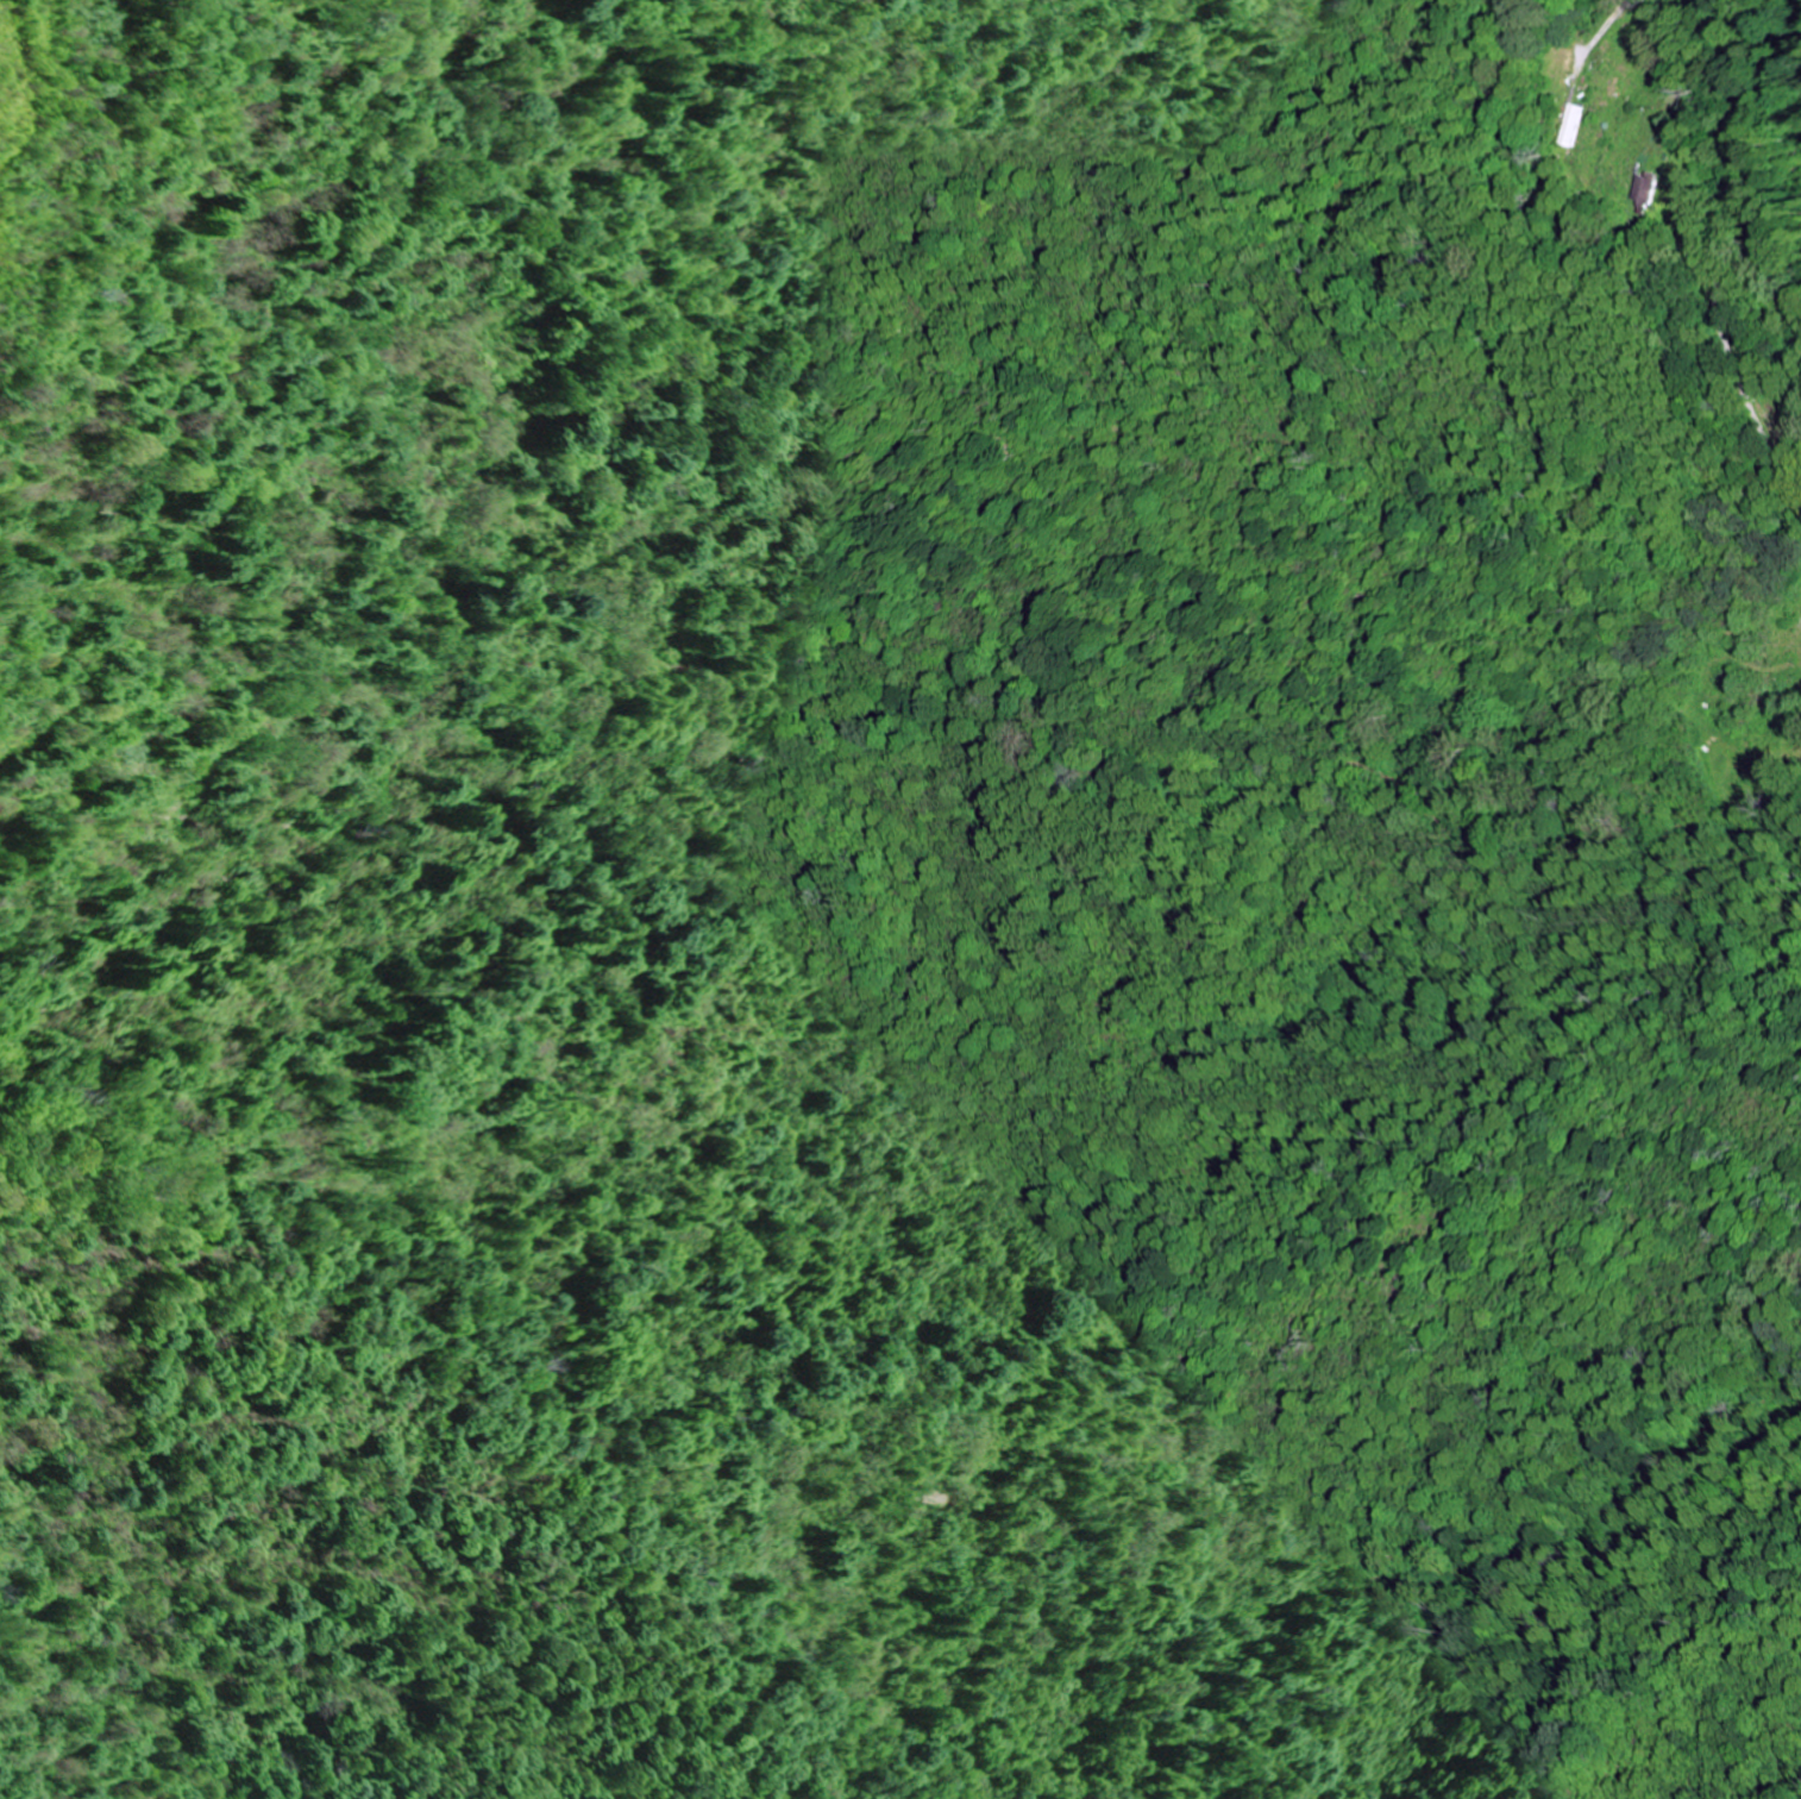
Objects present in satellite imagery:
building: (1661, 189)

